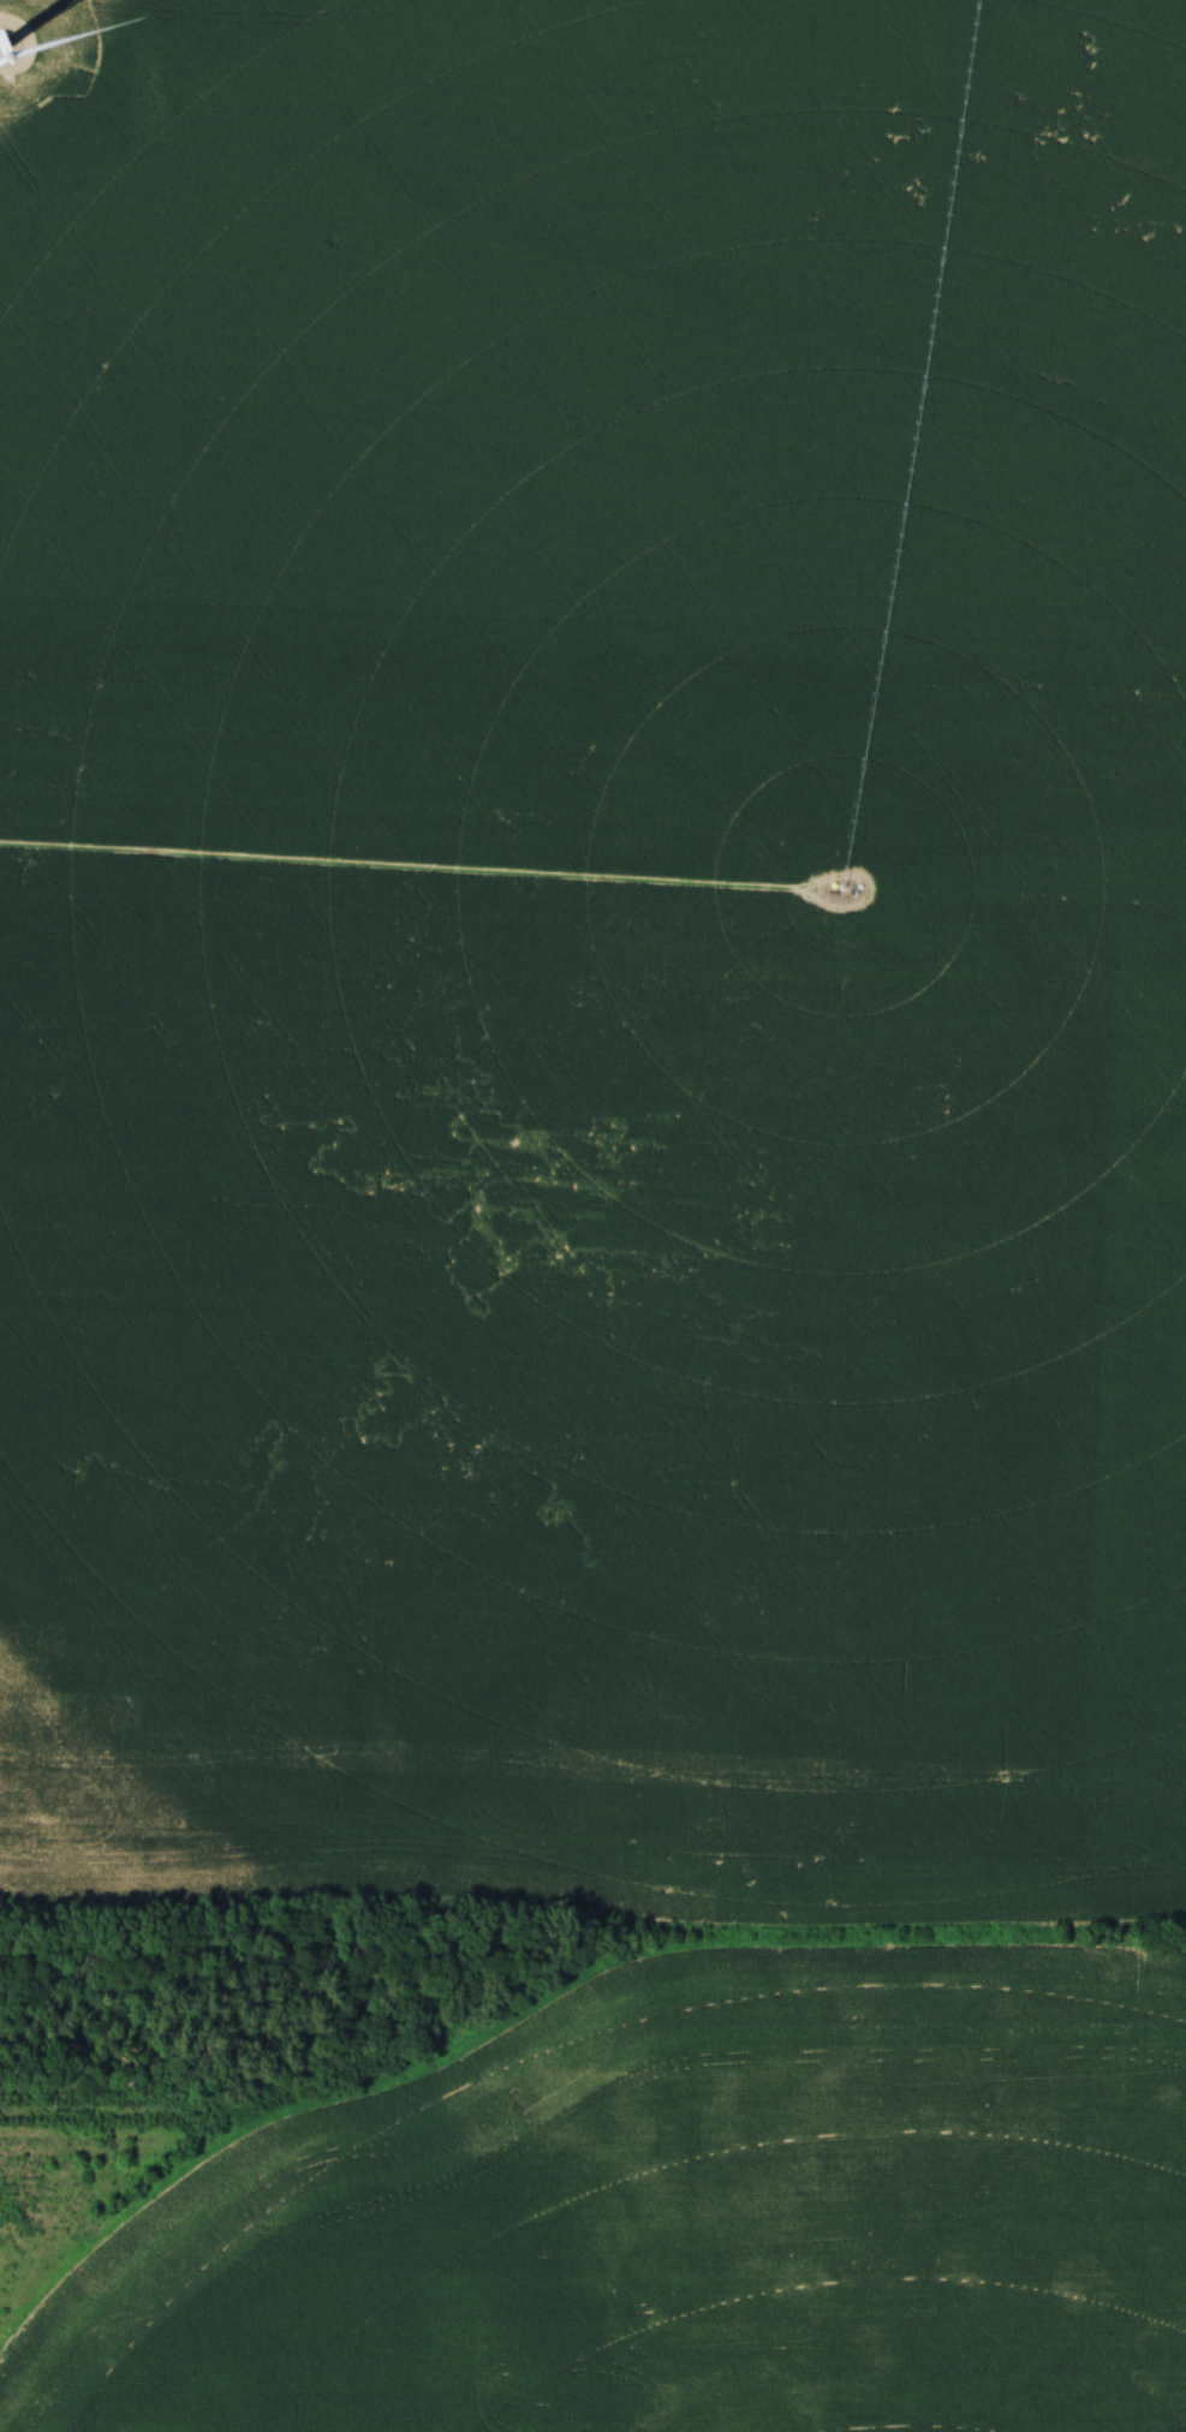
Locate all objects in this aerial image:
wind turbine: (5, 42)

